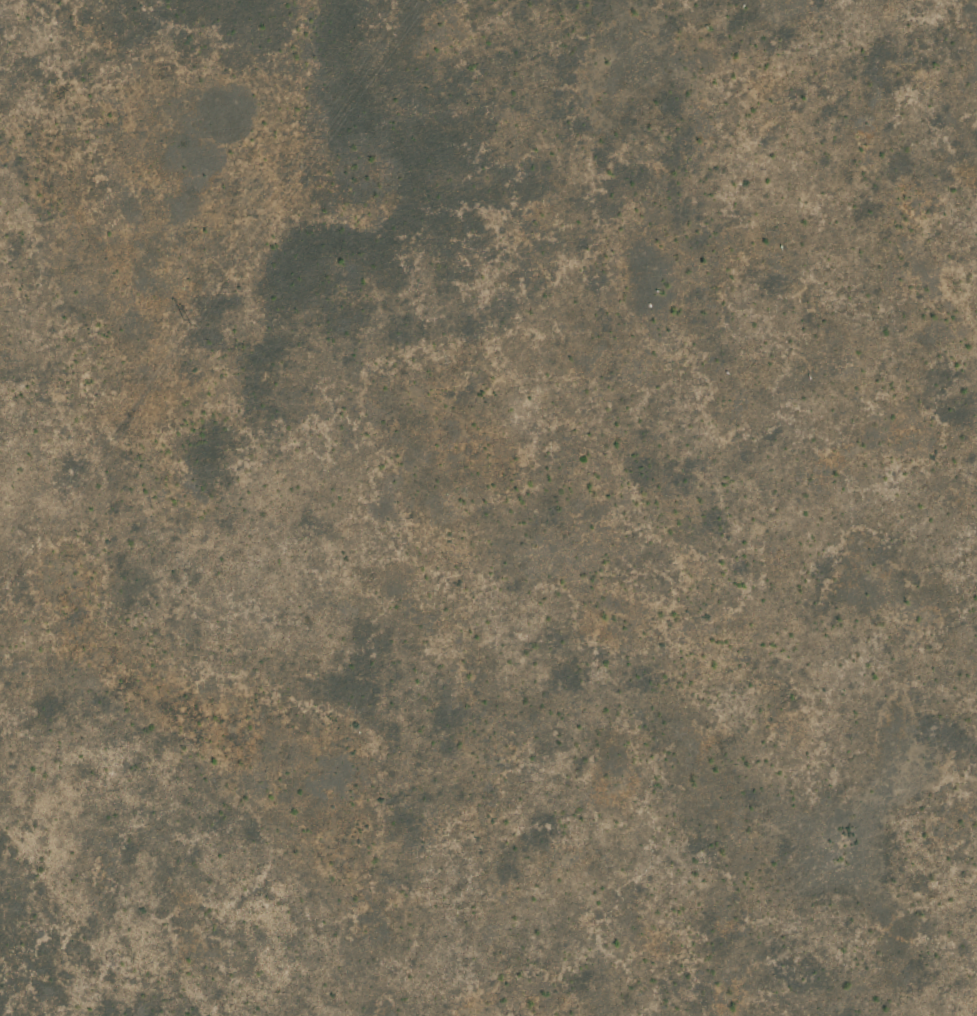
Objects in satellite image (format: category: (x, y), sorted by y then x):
power tower: (186, 322)

